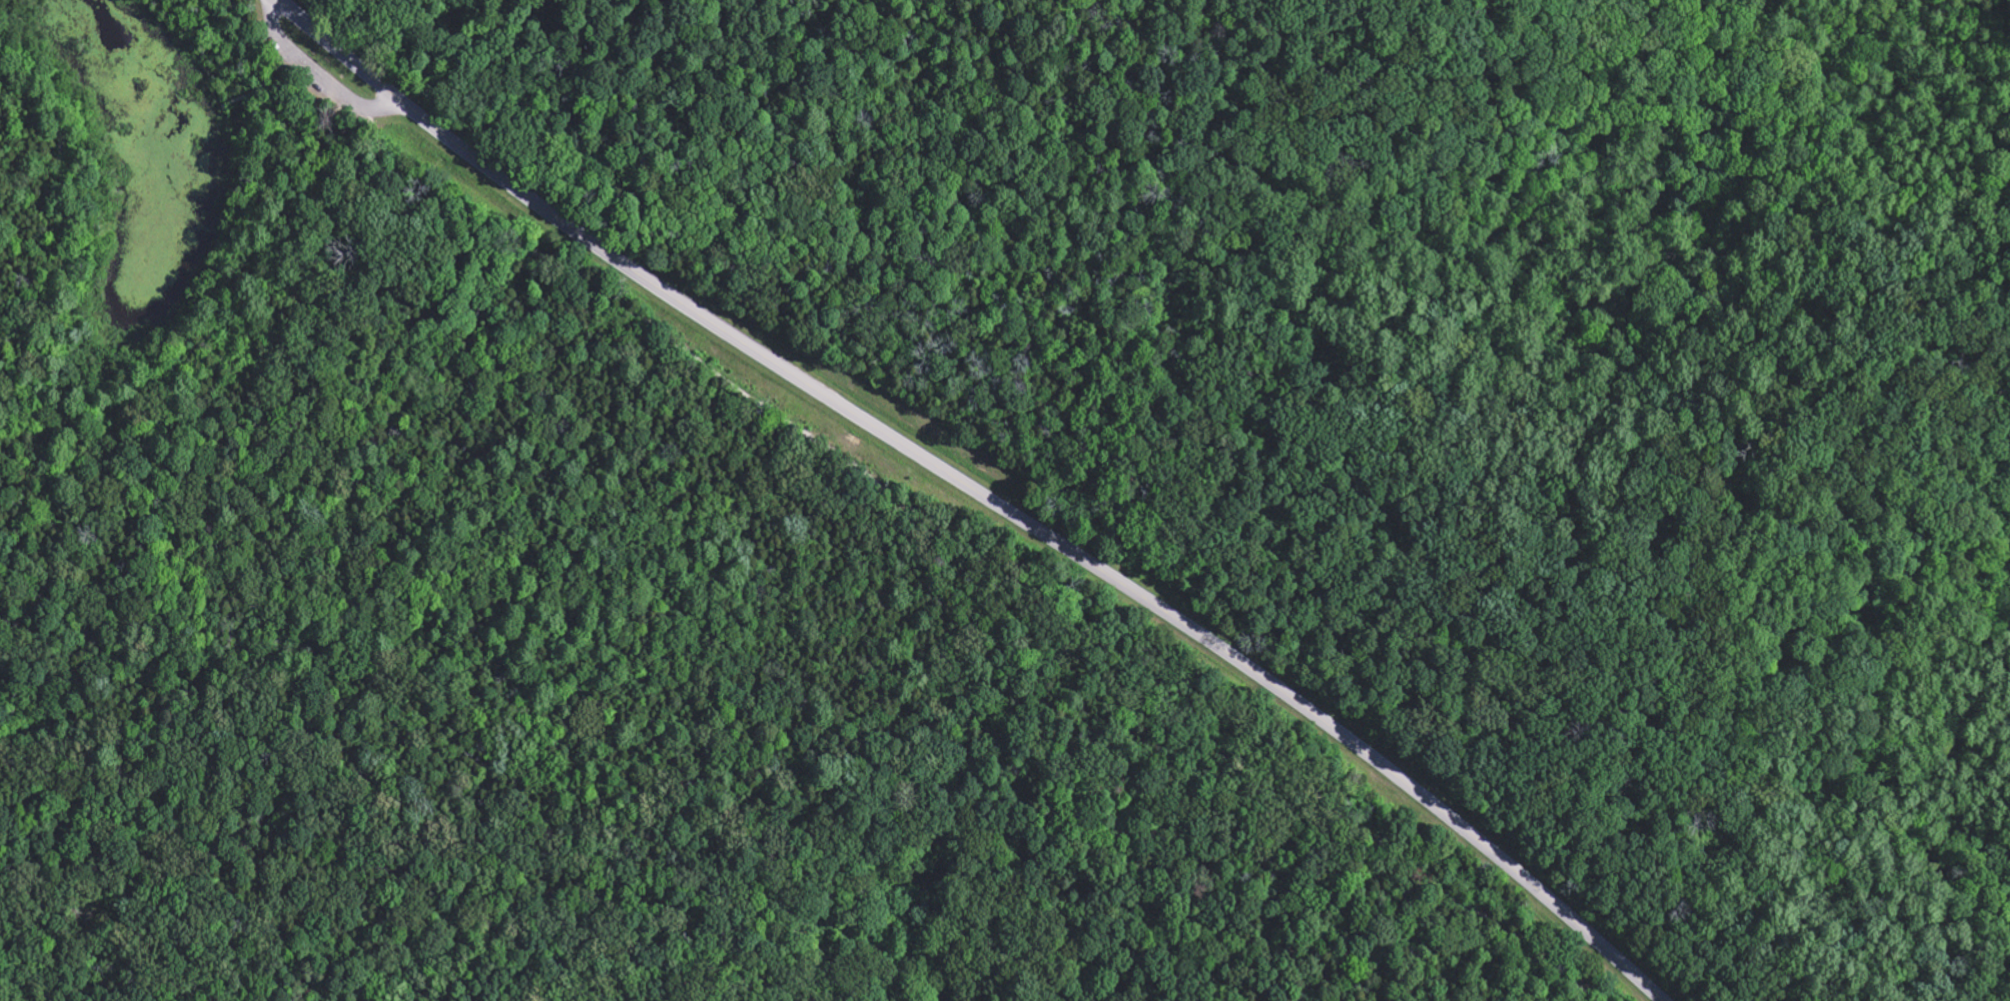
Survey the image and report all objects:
road: (261, 28)
road: (282, 28)
parking lot: (310, 82)
road: (261, 86)
road: (328, 97)
road: (413, 124)
road: (127, 418)
road: (973, 490)
road: (987, 560)

